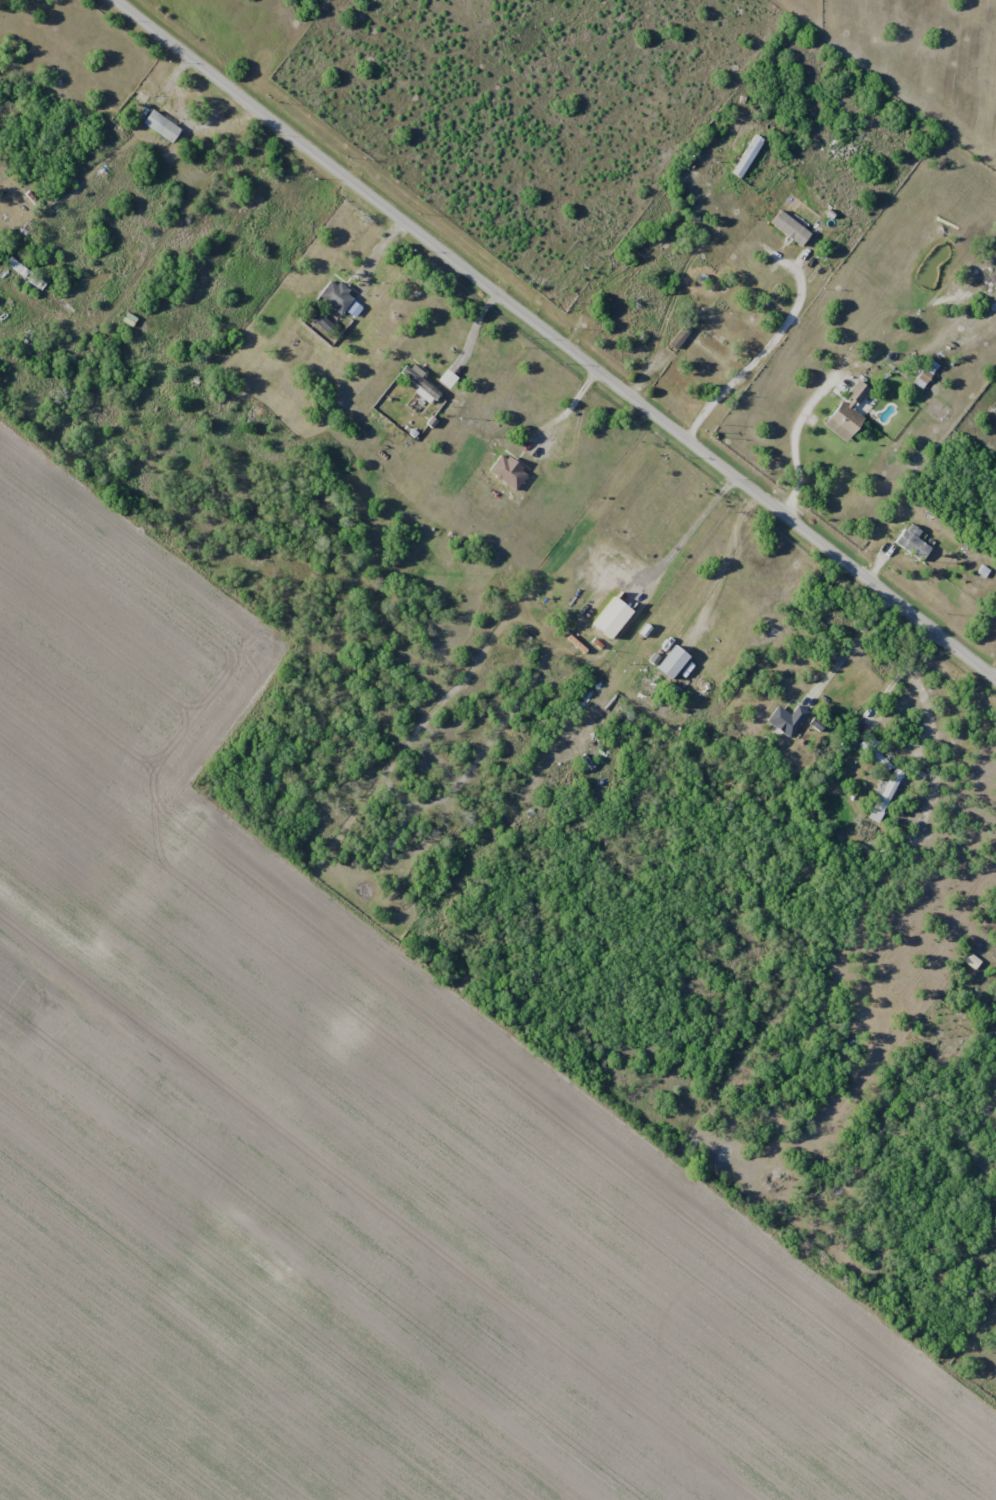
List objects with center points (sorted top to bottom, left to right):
building: (168, 129)
building: (743, 155)
building: (787, 228)
building: (27, 273)
building: (333, 296)
building: (649, 300)
building: (319, 323)
road: (476, 332)
road: (555, 339)
road: (756, 357)
building: (418, 384)
building: (855, 392)
road: (568, 407)
building: (840, 419)
road: (792, 439)
road: (682, 541)
building: (911, 542)
road: (725, 572)
building: (606, 617)
road: (851, 647)
building: (667, 661)
road: (898, 680)
building: (782, 721)

